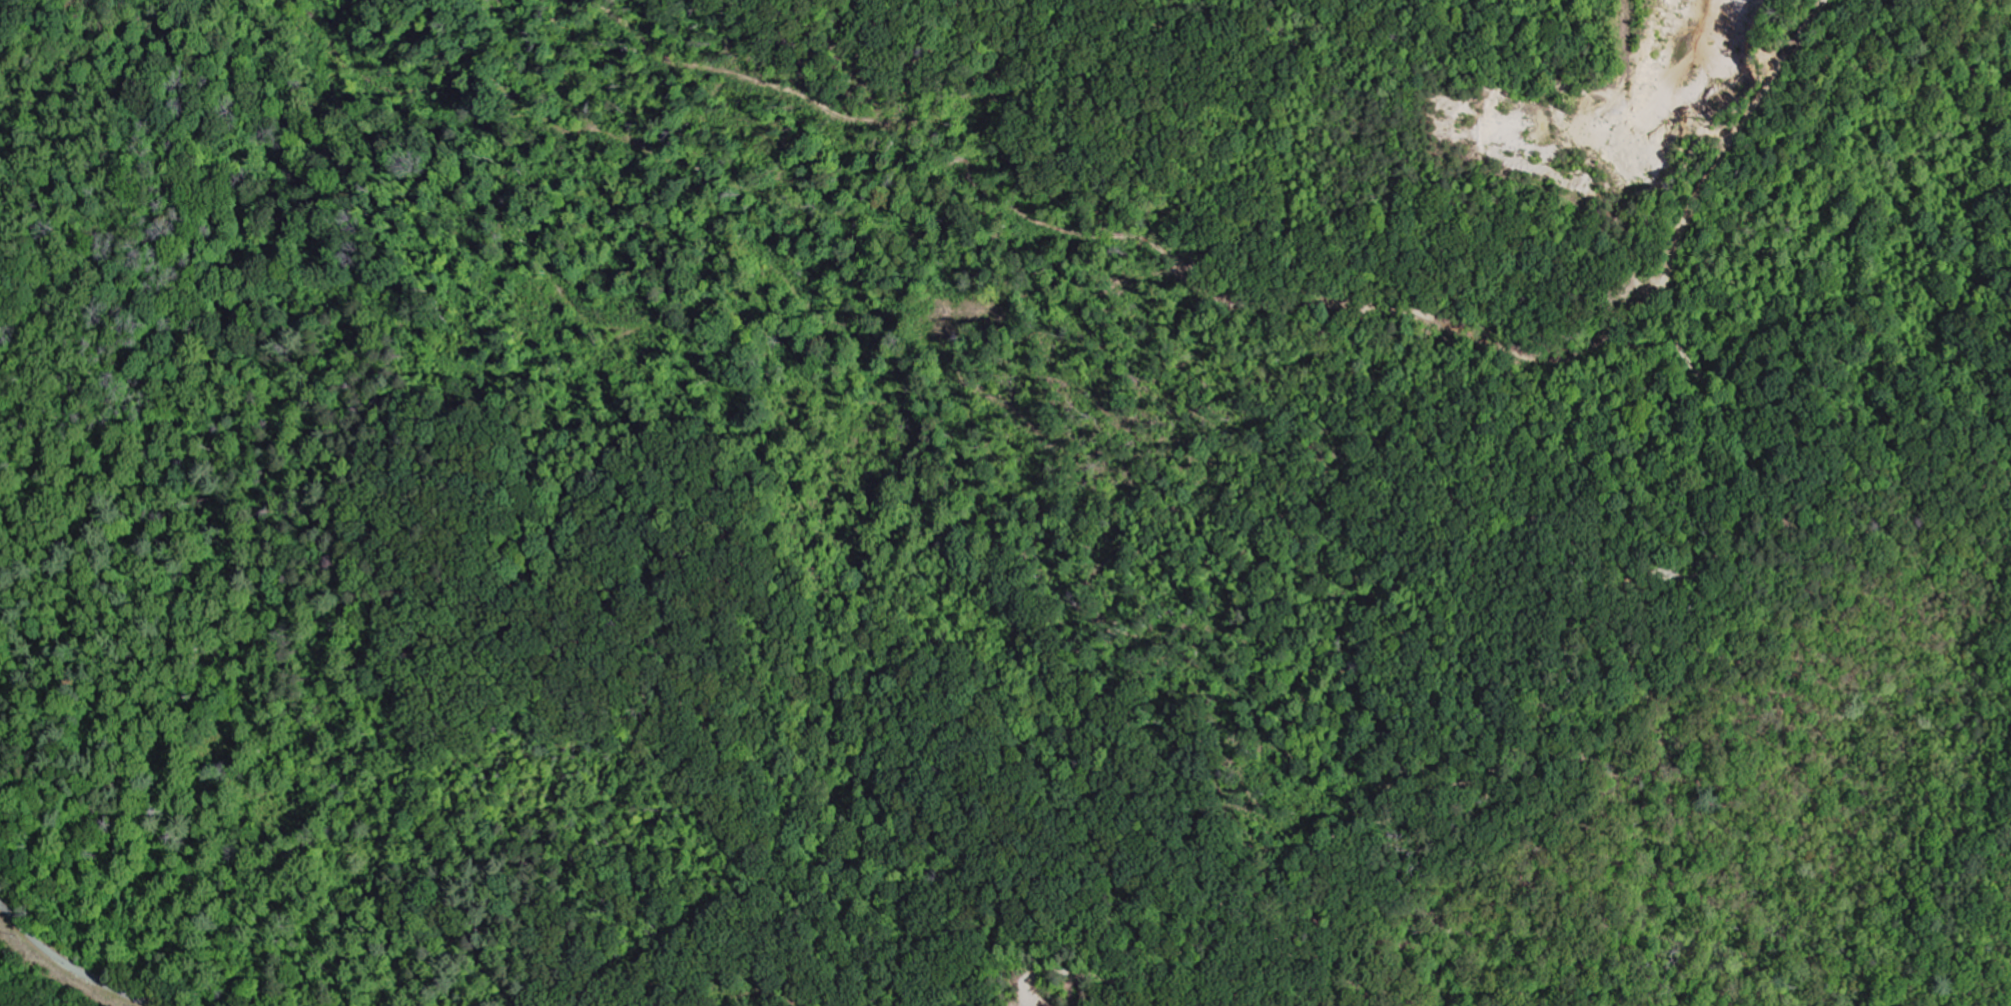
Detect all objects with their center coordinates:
road: (1639, 581)
road: (67, 965)

